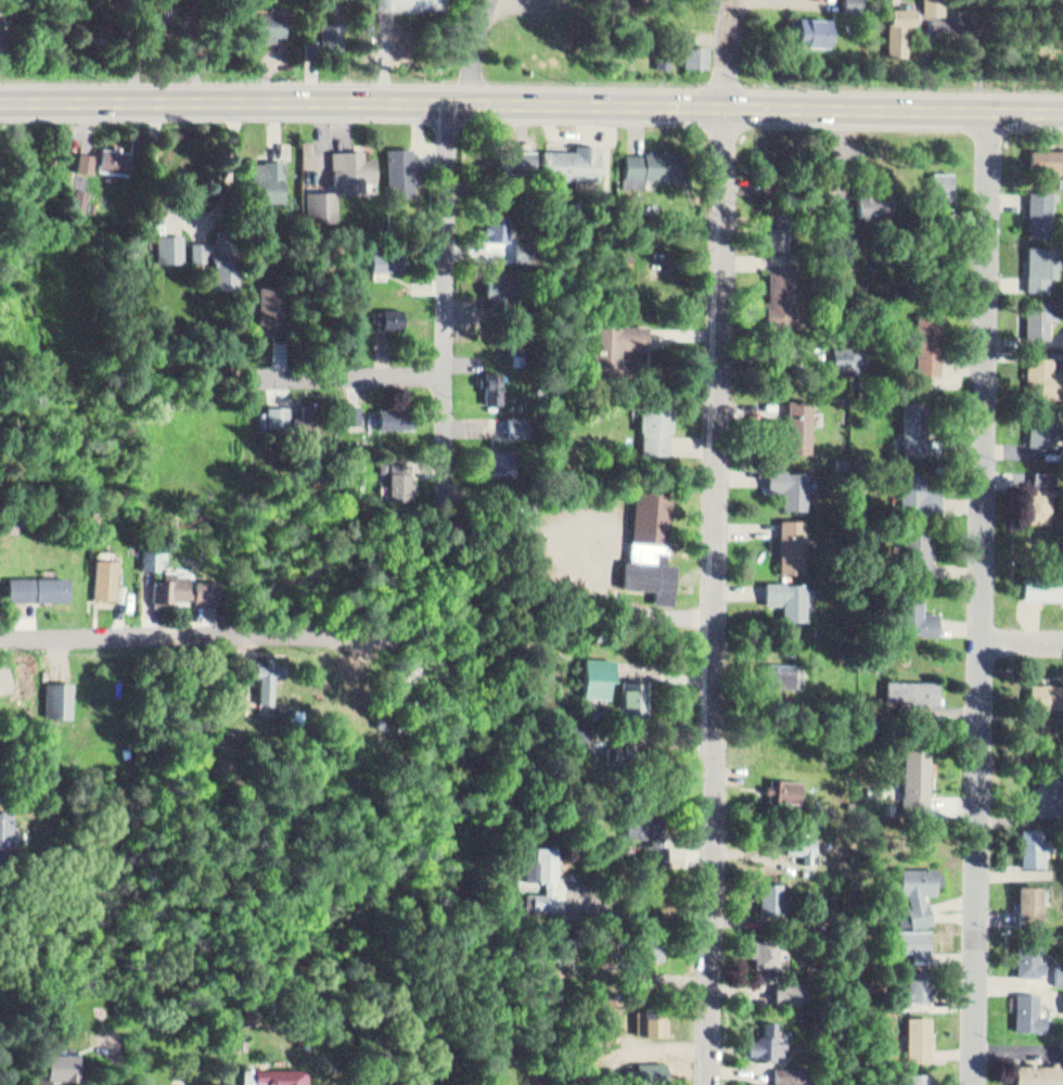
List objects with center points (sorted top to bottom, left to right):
building: (412, 2)
building: (855, 4)
building: (936, 8)
building: (158, 10)
building: (267, 21)
building: (1, 25)
building: (334, 29)
building: (815, 30)
building: (902, 31)
park: (1038, 48)
building: (700, 55)
building: (666, 56)
road: (225, 100)
road: (756, 106)
building: (112, 152)
building: (517, 153)
building: (81, 155)
building: (577, 158)
building: (341, 159)
building: (671, 161)
building: (1056, 164)
building: (407, 166)
building: (769, 169)
building: (267, 175)
building: (945, 187)
building: (78, 193)
building: (322, 199)
building: (876, 200)
building: (1045, 212)
building: (499, 224)
building: (781, 228)
building: (167, 243)
building: (525, 245)
building: (387, 255)
building: (215, 257)
building: (1046, 265)
building: (499, 277)
building: (268, 298)
building: (782, 298)
road: (447, 310)
building: (394, 311)
building: (1049, 312)
building: (526, 334)
building: (622, 339)
building: (931, 340)
building: (524, 347)
building: (850, 357)
road: (317, 375)
building: (1046, 375)
building: (496, 378)
building: (351, 407)
building: (389, 409)
building: (291, 410)
building: (522, 419)
building: (662, 423)
building: (921, 423)
building: (804, 424)
building: (1046, 424)
building: (504, 457)
building: (398, 475)
building: (795, 486)
building: (924, 492)
building: (1046, 496)
road: (725, 541)
building: (653, 542)
building: (798, 544)
building: (923, 548)
building: (152, 557)
building: (110, 577)
building: (1045, 584)
building: (48, 585)
building: (183, 588)
building: (793, 597)
road: (989, 598)
building: (919, 614)
road: (187, 627)
road: (1026, 646)
building: (785, 673)
building: (600, 676)
building: (268, 678)
building: (920, 690)
building: (1048, 692)
building: (637, 695)
building: (63, 698)
building: (918, 782)
building: (787, 789)
building: (1051, 792)
building: (644, 822)
building: (7, 834)
building: (806, 843)
building: (1038, 844)
building: (541, 880)
building: (922, 890)
building: (777, 897)
building: (1032, 902)
building: (918, 941)
building: (656, 949)
building: (770, 953)
building: (1033, 957)
building: (1061, 970)
building: (922, 982)
building: (655, 987)
building: (792, 992)
building: (1032, 1010)
building: (654, 1020)
building: (923, 1036)
building: (772, 1041)
building: (61, 1068)
building: (794, 1072)
building: (1040, 1073)
building: (283, 1074)
building: (922, 1077)

